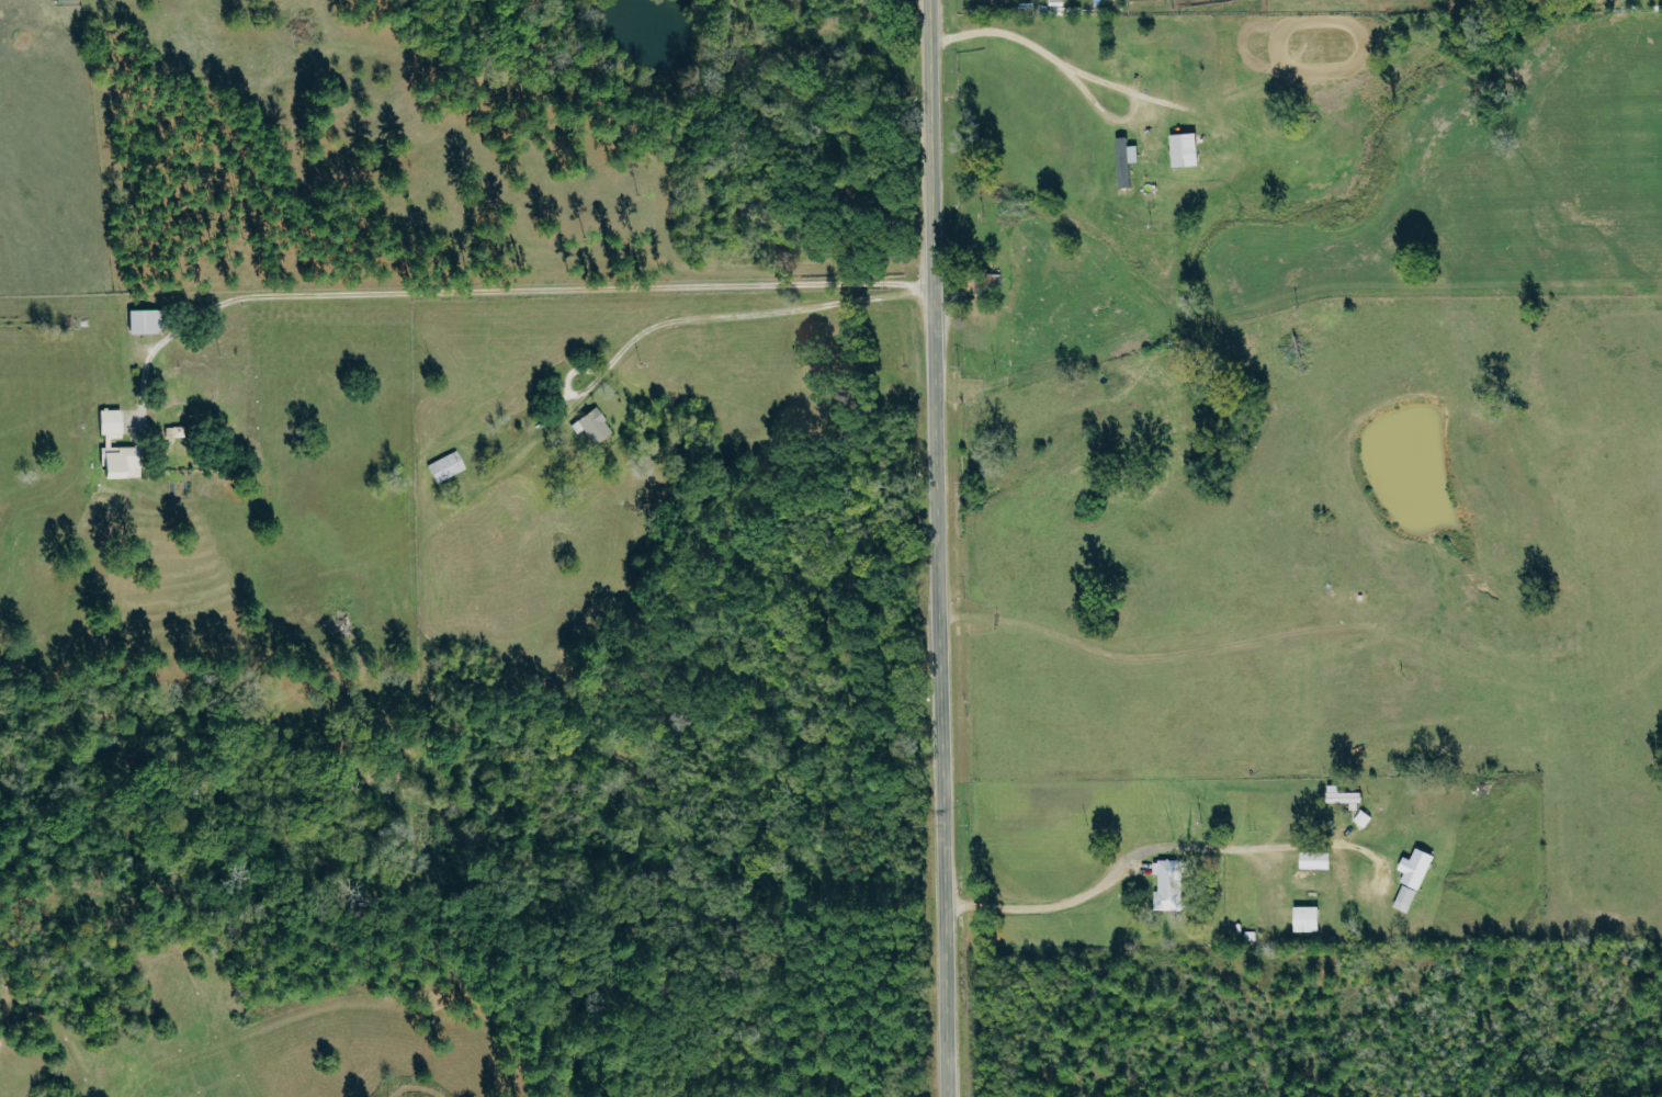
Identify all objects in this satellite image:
building: (61, 0)
road: (1081, 90)
building: (1188, 149)
building: (1129, 160)
road: (505, 291)
road: (750, 314)
building: (146, 321)
building: (595, 426)
building: (449, 466)
road: (936, 547)
building: (1345, 794)
road: (1141, 846)
building: (1415, 877)
building: (1171, 883)
building: (1310, 918)

